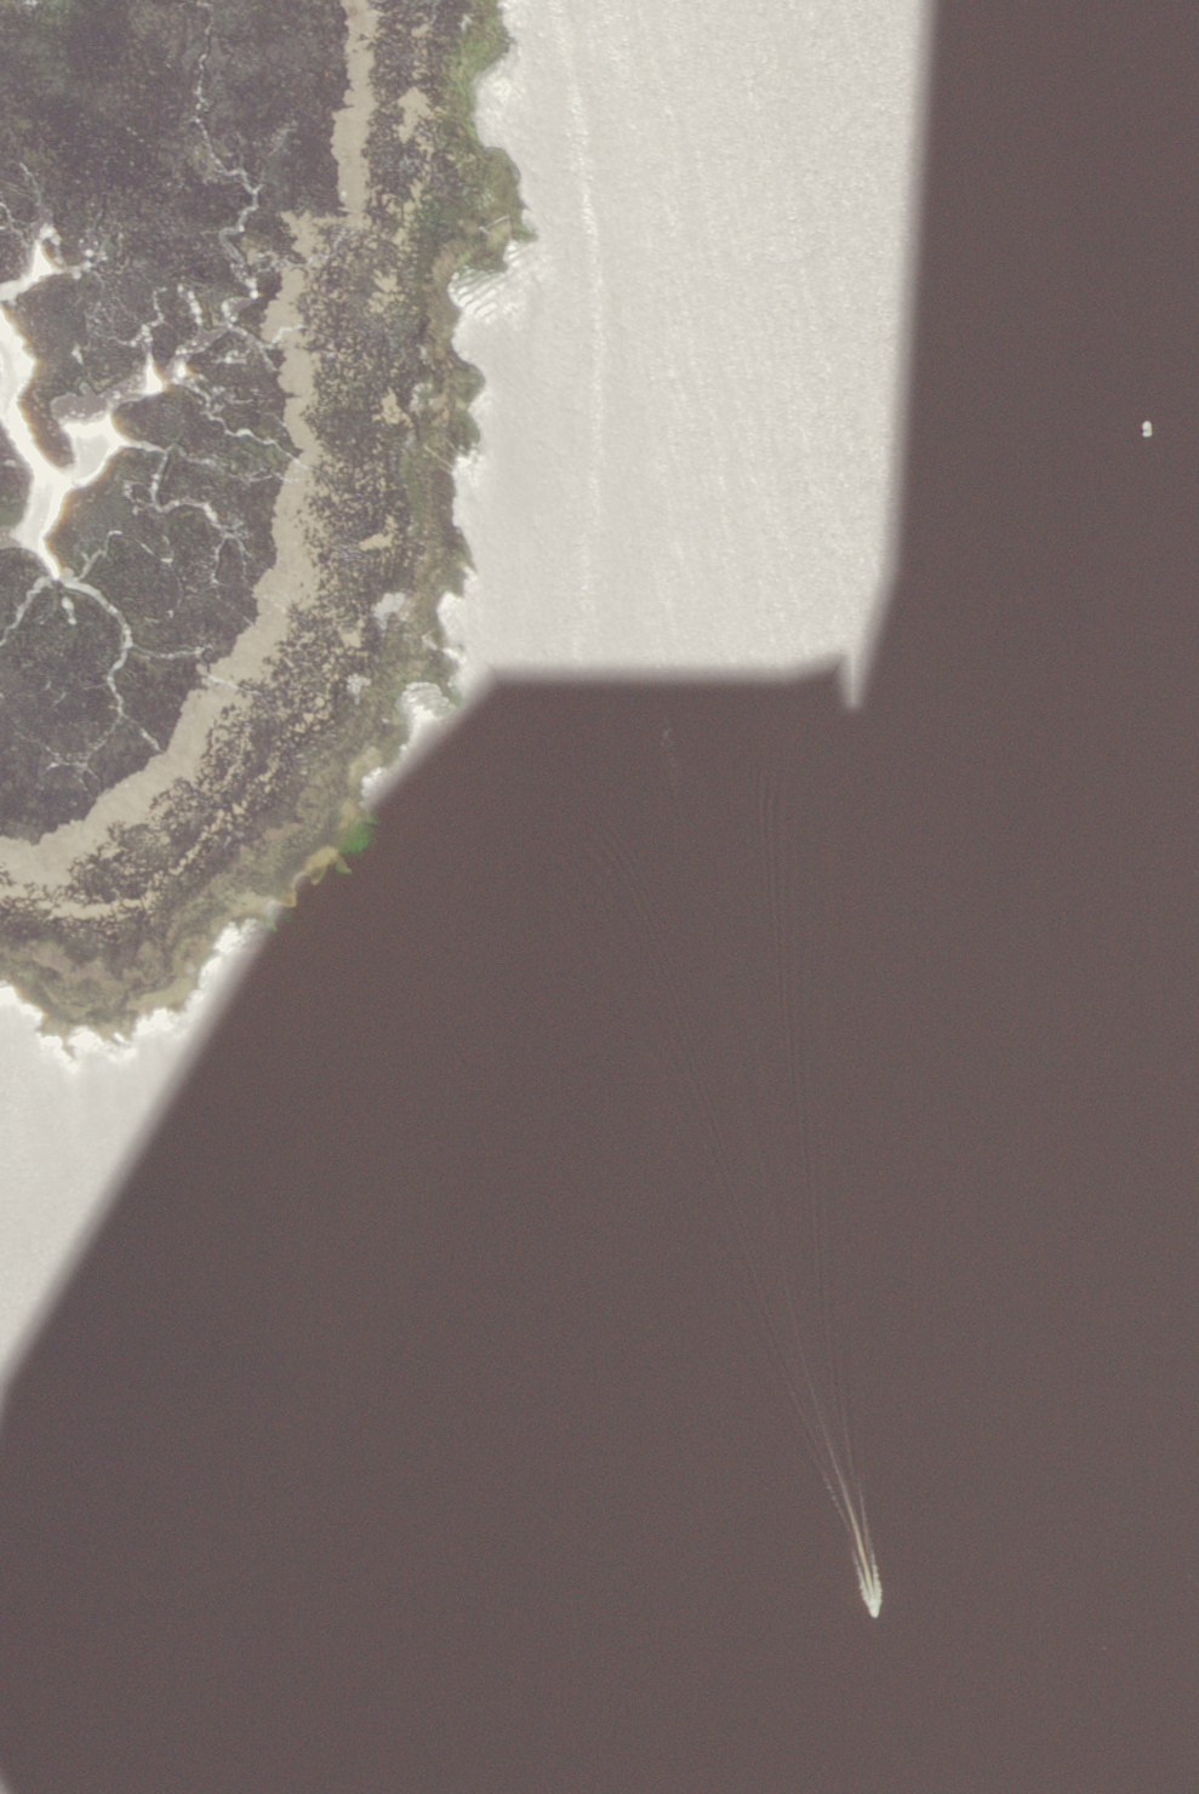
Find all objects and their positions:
river: (920, 232)

